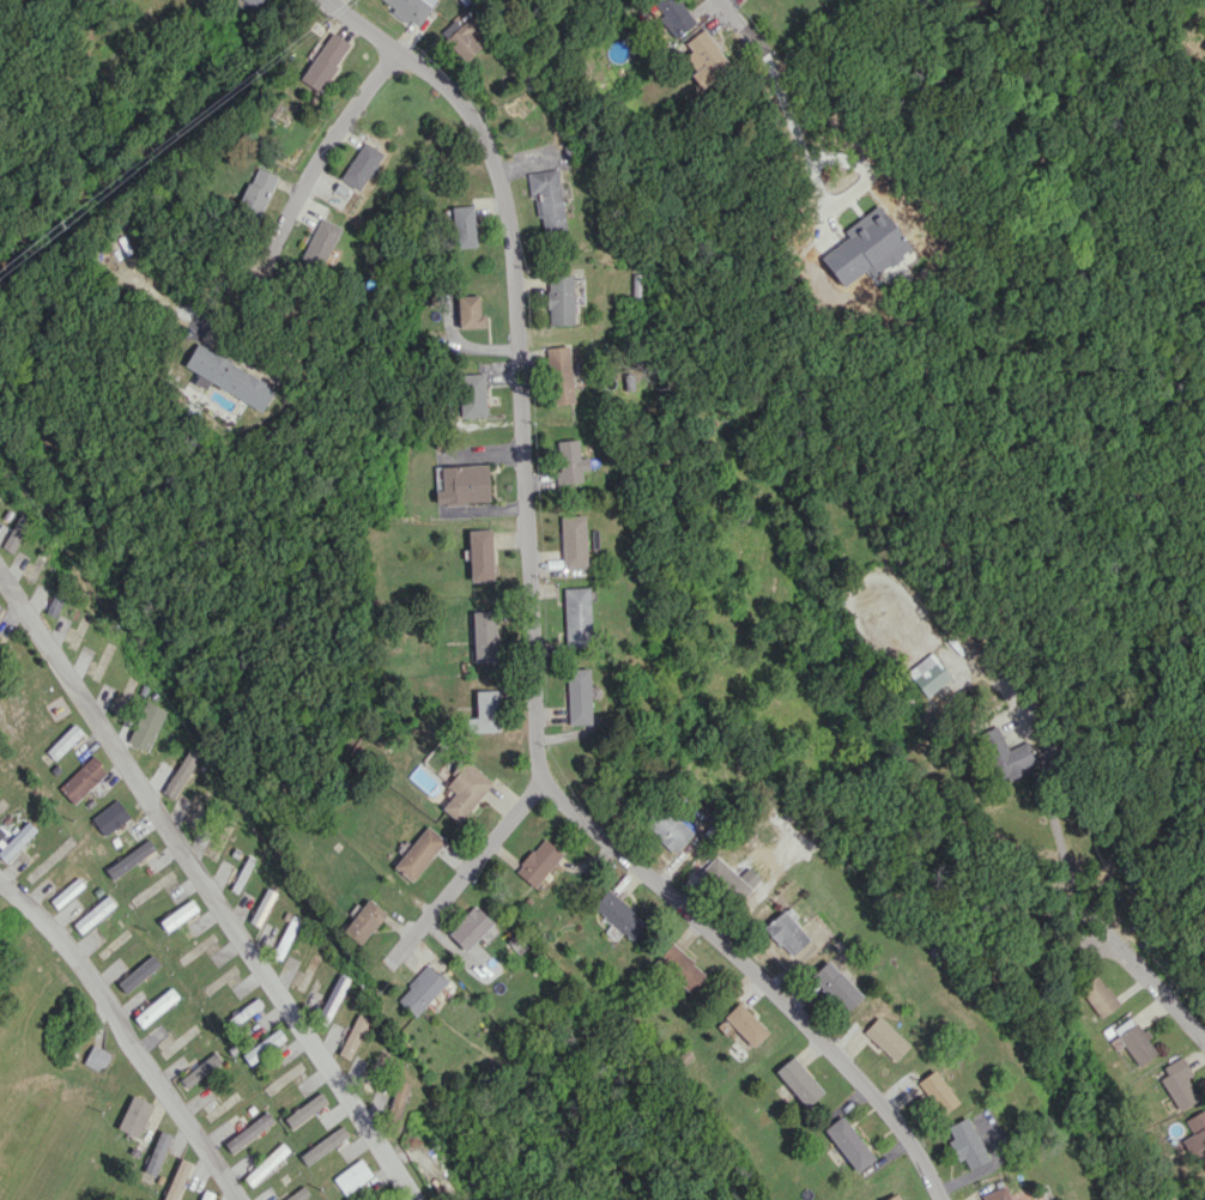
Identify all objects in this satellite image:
building: (253, 2)
building: (410, 8)
building: (673, 14)
road: (735, 19)
building: (464, 40)
building: (707, 57)
building: (325, 61)
road: (783, 115)
building: (361, 165)
building: (258, 189)
road: (299, 195)
building: (547, 200)
building: (461, 226)
building: (320, 242)
building: (559, 299)
building: (470, 311)
building: (559, 374)
building: (228, 377)
building: (473, 394)
building: (570, 461)
building: (464, 484)
building: (16, 532)
building: (573, 541)
building: (480, 554)
building: (54, 604)
building: (0, 606)
building: (576, 617)
building: (485, 635)
road: (534, 643)
building: (928, 673)
building: (579, 696)
building: (485, 711)
building: (146, 726)
building: (63, 741)
building: (1006, 754)
building: (181, 771)
building: (83, 778)
building: (466, 790)
building: (110, 817)
building: (668, 829)
building: (17, 841)
building: (418, 853)
building: (129, 859)
building: (538, 861)
road: (480, 865)
building: (726, 879)
road: (1084, 881)
road: (208, 887)
building: (67, 892)
building: (262, 907)
building: (93, 914)
building: (618, 914)
building: (178, 915)
building: (363, 921)
building: (470, 928)
building: (786, 933)
building: (679, 966)
building: (138, 972)
building: (836, 986)
building: (420, 989)
building: (1098, 995)
building: (317, 1001)
building: (156, 1006)
building: (246, 1011)
building: (746, 1024)
road: (126, 1034)
building: (353, 1035)
building: (885, 1037)
building: (1134, 1041)
building: (264, 1046)
building: (97, 1057)
building: (199, 1069)
building: (799, 1080)
building: (1179, 1083)
building: (937, 1091)
building: (396, 1098)
building: (305, 1109)
building: (134, 1116)
building: (248, 1132)
building: (1195, 1135)
building: (849, 1143)
building: (965, 1143)
building: (157, 1152)
building: (267, 1164)
building: (352, 1176)
building: (177, 1180)
building: (997, 1194)
building: (894, 1196)
building: (381, 1198)

